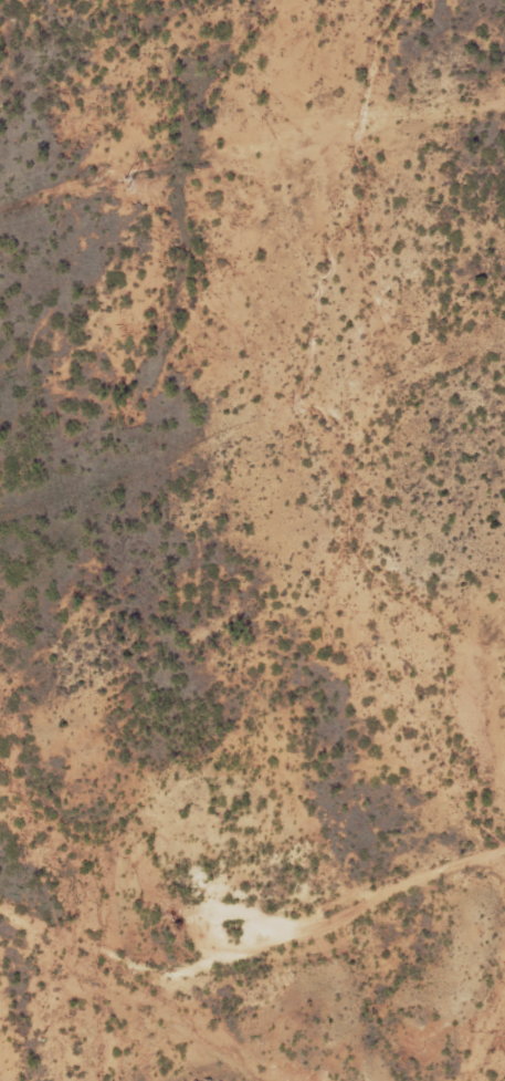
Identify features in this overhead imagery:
power tower: (122, 184)

